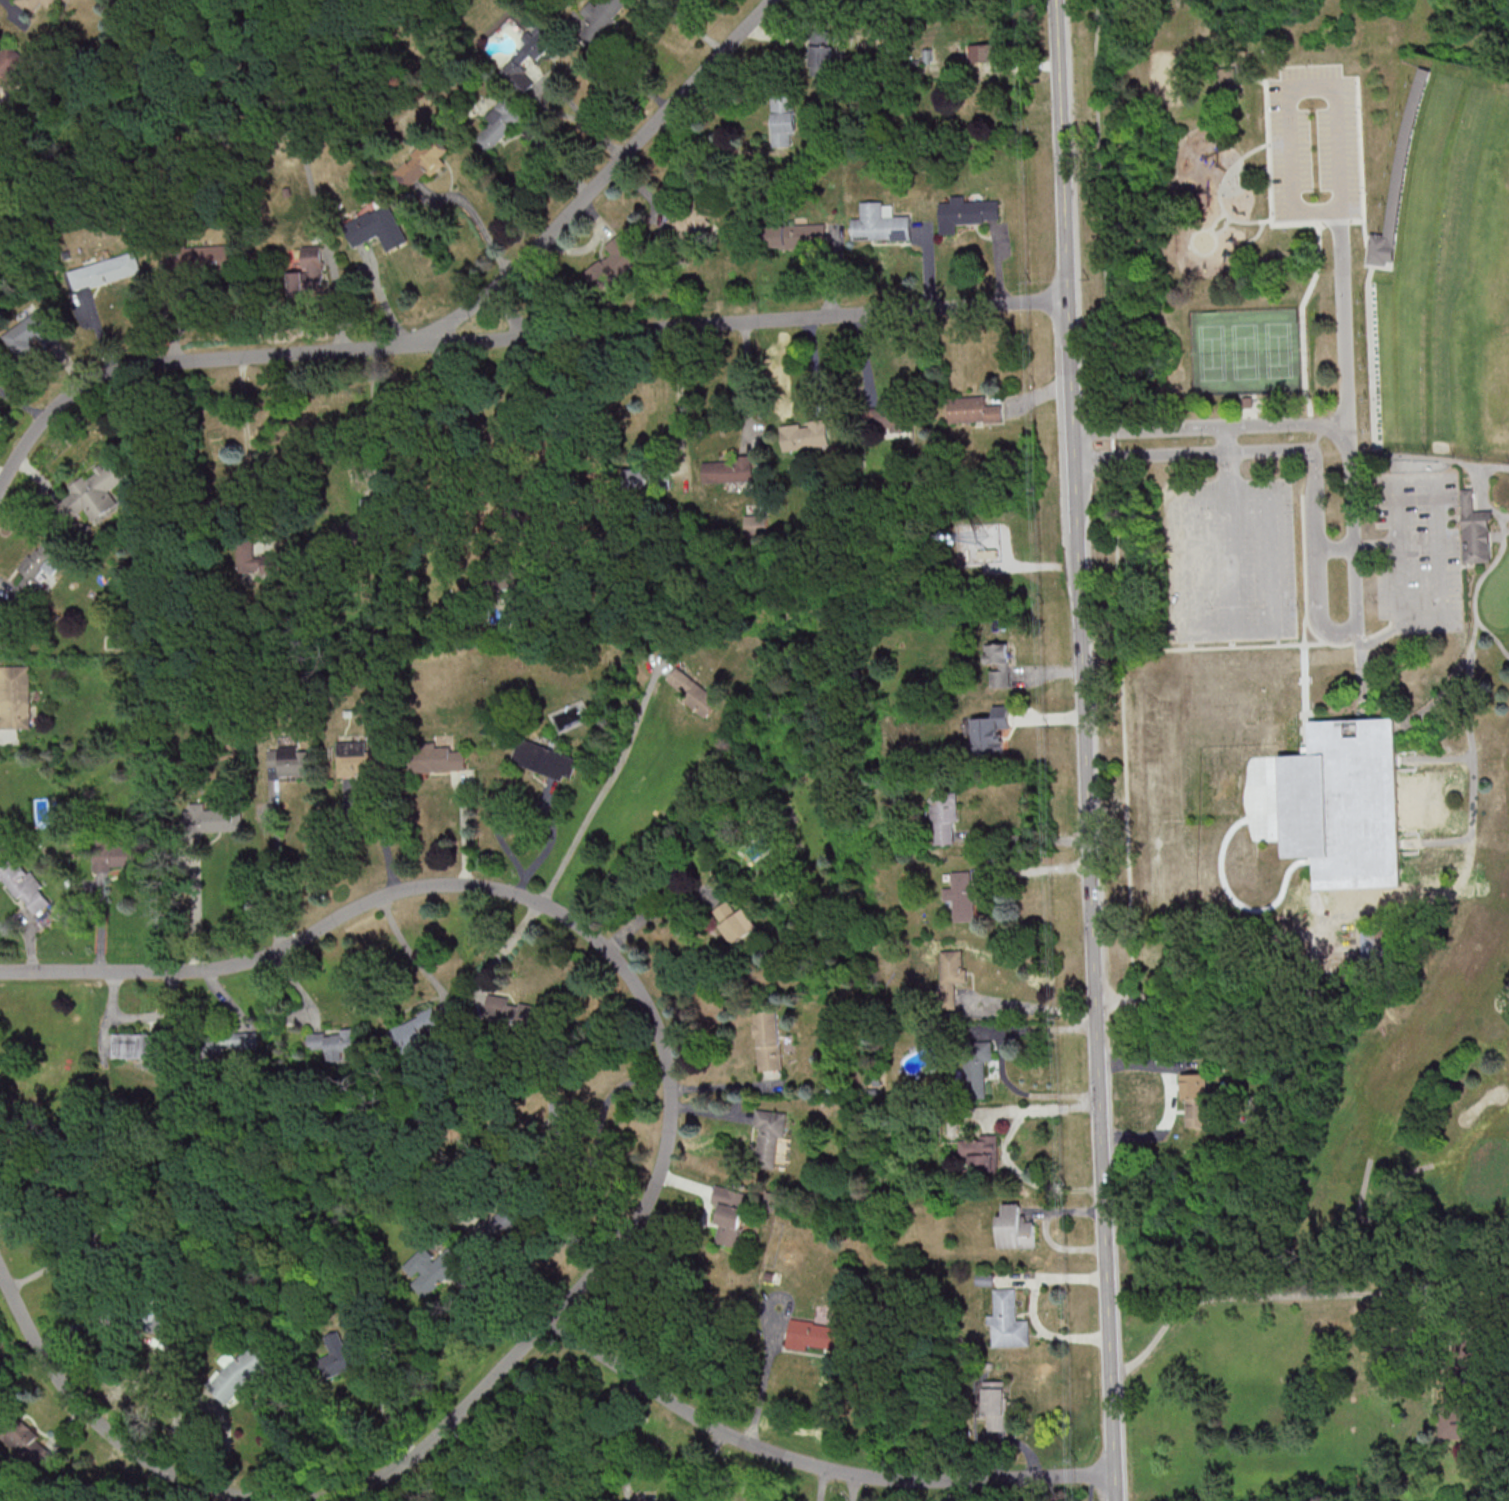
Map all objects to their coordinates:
building: (31, 8)
building: (601, 17)
building: (986, 52)
building: (523, 57)
building: (822, 57)
building: (10, 66)
park: (1166, 78)
building: (1228, 83)
road: (1335, 85)
building: (941, 115)
road: (573, 118)
building: (784, 121)
building: (500, 125)
parking lot: (1313, 145)
building: (1405, 152)
building: (422, 162)
road: (607, 172)
road: (1361, 184)
road: (1269, 185)
road: (1219, 192)
building: (966, 213)
building: (693, 216)
road: (1215, 220)
building: (880, 224)
building: (376, 228)
road: (1223, 228)
road: (1212, 231)
road: (1257, 235)
building: (797, 236)
building: (1382, 250)
building: (202, 257)
building: (613, 263)
park: (1442, 264)
building: (106, 271)
building: (308, 272)
road: (1343, 317)
road: (1302, 323)
building: (34, 332)
road: (506, 338)
park: (1244, 352)
road: (750, 384)
road: (681, 397)
road: (372, 409)
building: (974, 410)
building: (889, 419)
building: (805, 435)
road: (250, 449)
road: (1227, 458)
building: (727, 471)
road: (497, 473)
building: (641, 478)
road: (1226, 488)
building: (96, 491)
road: (1076, 500)
road: (1503, 515)
park: (1260, 527)
road: (1505, 530)
building: (355, 534)
building: (1476, 541)
road: (1355, 548)
parking lot: (1417, 552)
road: (1499, 555)
building: (257, 559)
road: (1272, 559)
parking lot: (1230, 560)
building: (40, 561)
road: (1229, 561)
road: (1303, 572)
road: (1356, 606)
road: (1187, 607)
road: (1441, 624)
road: (1380, 636)
road: (1277, 643)
road: (1232, 645)
road: (1190, 647)
road: (1259, 647)
building: (998, 664)
road: (1361, 673)
road: (1449, 683)
road: (1305, 686)
building: (692, 691)
building: (15, 697)
building: (991, 731)
building: (438, 758)
building: (545, 759)
road: (1435, 759)
building: (290, 760)
building: (359, 760)
road: (601, 788)
building: (1345, 804)
building: (944, 816)
building: (214, 819)
road: (380, 829)
road: (466, 831)
road: (1029, 840)
road: (1436, 843)
road: (548, 849)
building: (117, 855)
road: (278, 864)
road: (1036, 871)
building: (26, 888)
road: (510, 889)
building: (962, 895)
road: (1384, 907)
road: (197, 916)
building: (738, 925)
building: (1375, 945)
road: (409, 951)
building: (952, 971)
road: (1037, 1007)
building: (516, 1012)
building: (418, 1033)
building: (769, 1040)
building: (231, 1044)
building: (139, 1045)
building: (333, 1046)
building: (976, 1067)
building: (1195, 1100)
building: (561, 1124)
building: (768, 1138)
building: (980, 1152)
park: (1353, 1205)
building: (730, 1214)
road: (1374, 1214)
building: (499, 1225)
building: (1015, 1228)
road: (1105, 1250)
building: (432, 1269)
road: (2, 1274)
road: (1261, 1295)
building: (1004, 1320)
building: (818, 1335)
road: (159, 1343)
building: (339, 1355)
building: (241, 1371)
road: (760, 1390)
building: (995, 1406)
building: (1460, 1421)
road: (624, 1435)
building: (25, 1440)
road: (711, 1462)
road: (817, 1465)
road: (101, 1470)
road: (148, 1482)
road: (399, 1483)
road: (822, 1484)
road: (852, 1487)
road: (185, 1489)
road: (212, 1493)
road: (359, 1494)
road: (259, 1495)
building: (638, 1495)

